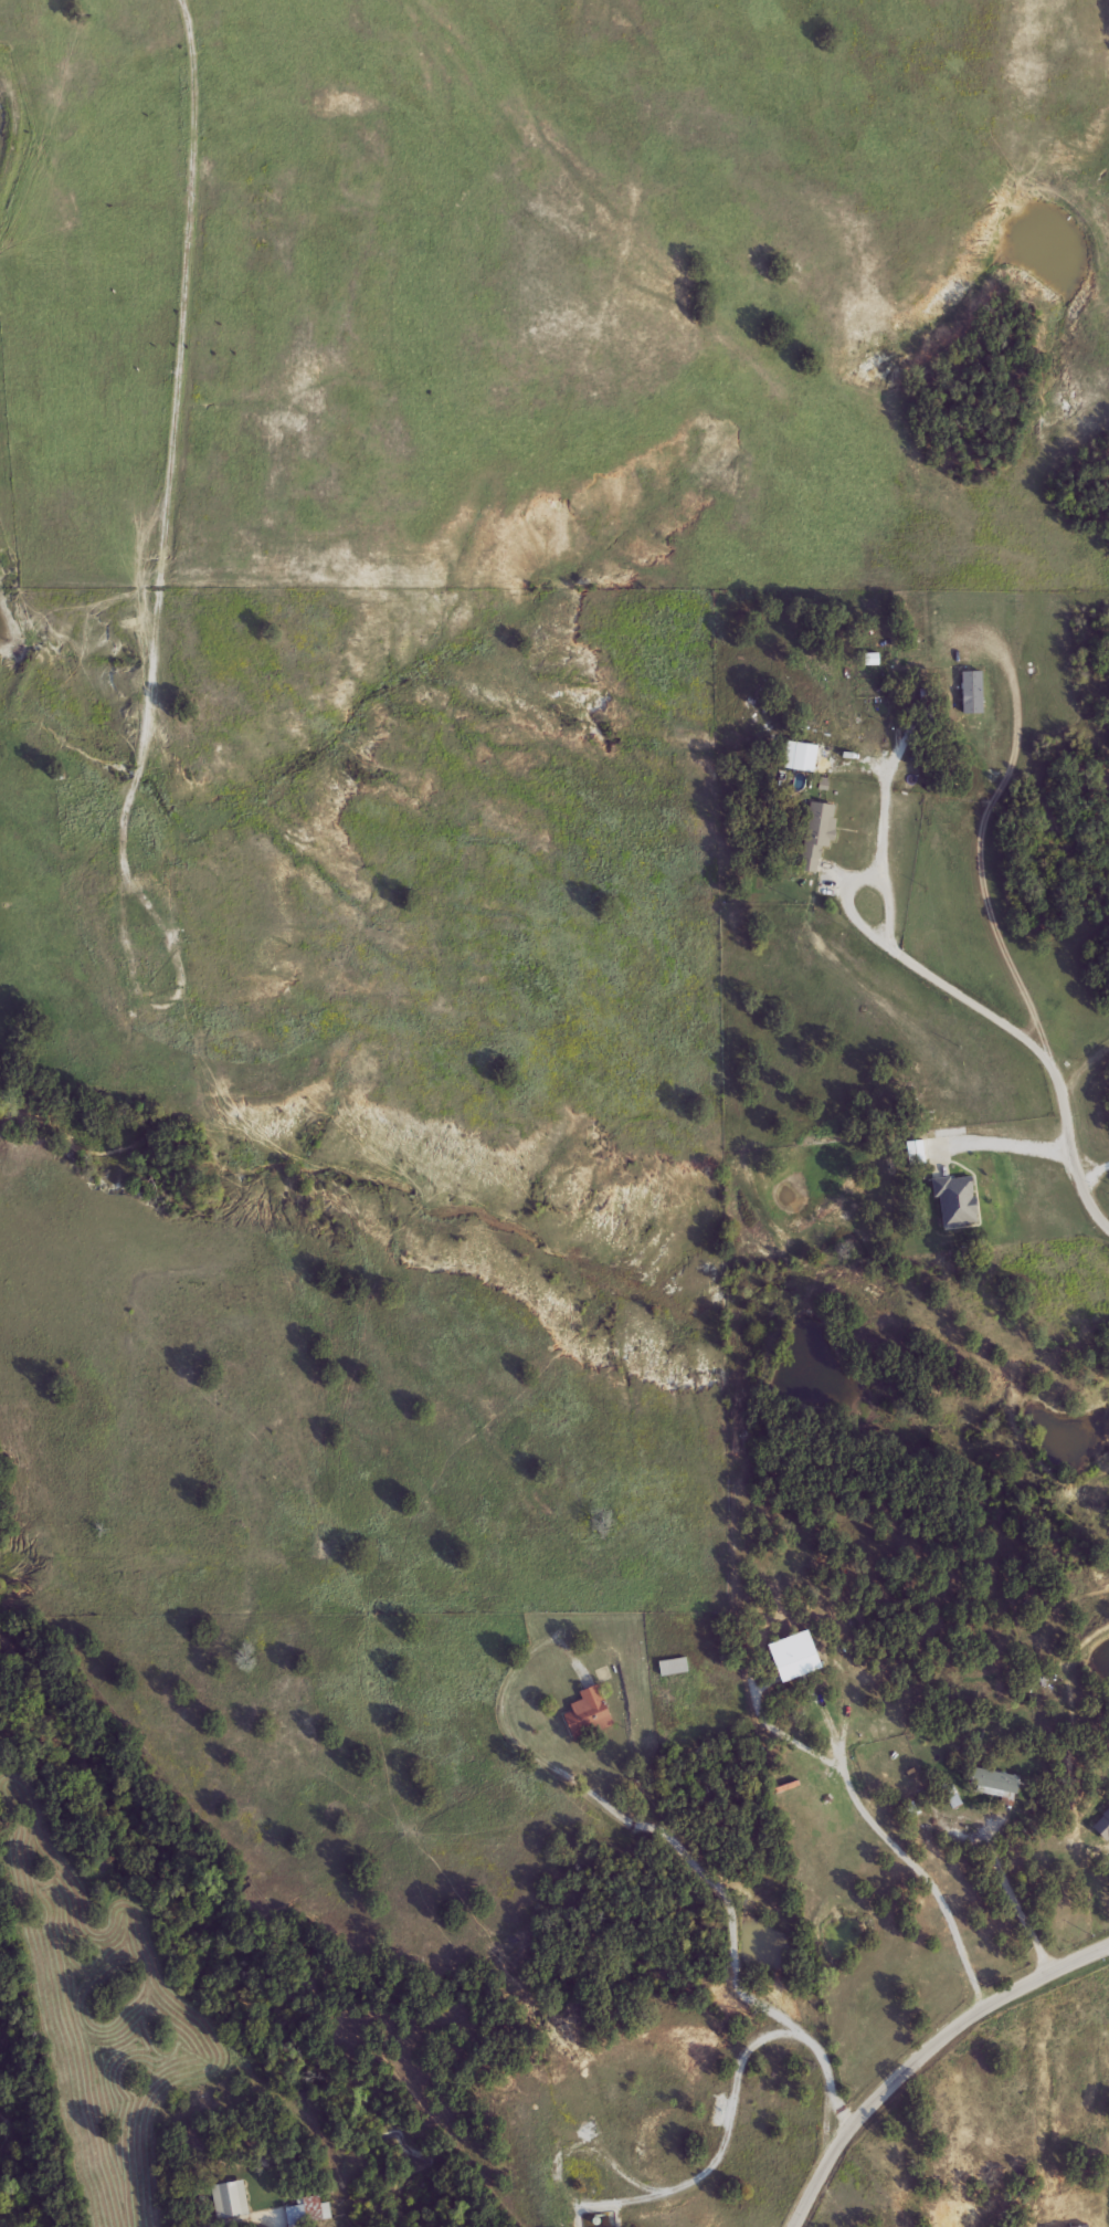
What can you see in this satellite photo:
road: (175, 407)
building: (800, 756)
building: (818, 831)
road: (883, 857)
road: (1039, 1051)
road: (1084, 1065)
road: (1016, 1145)
building: (916, 1153)
road: (1092, 1173)
building: (955, 1200)
building: (672, 1667)
building: (809, 1706)
building: (588, 1714)
road: (794, 1746)
building: (993, 1784)
road: (901, 1852)
road: (693, 1853)
road: (1022, 1903)
road: (925, 2057)
building: (229, 2199)
building: (307, 2212)

